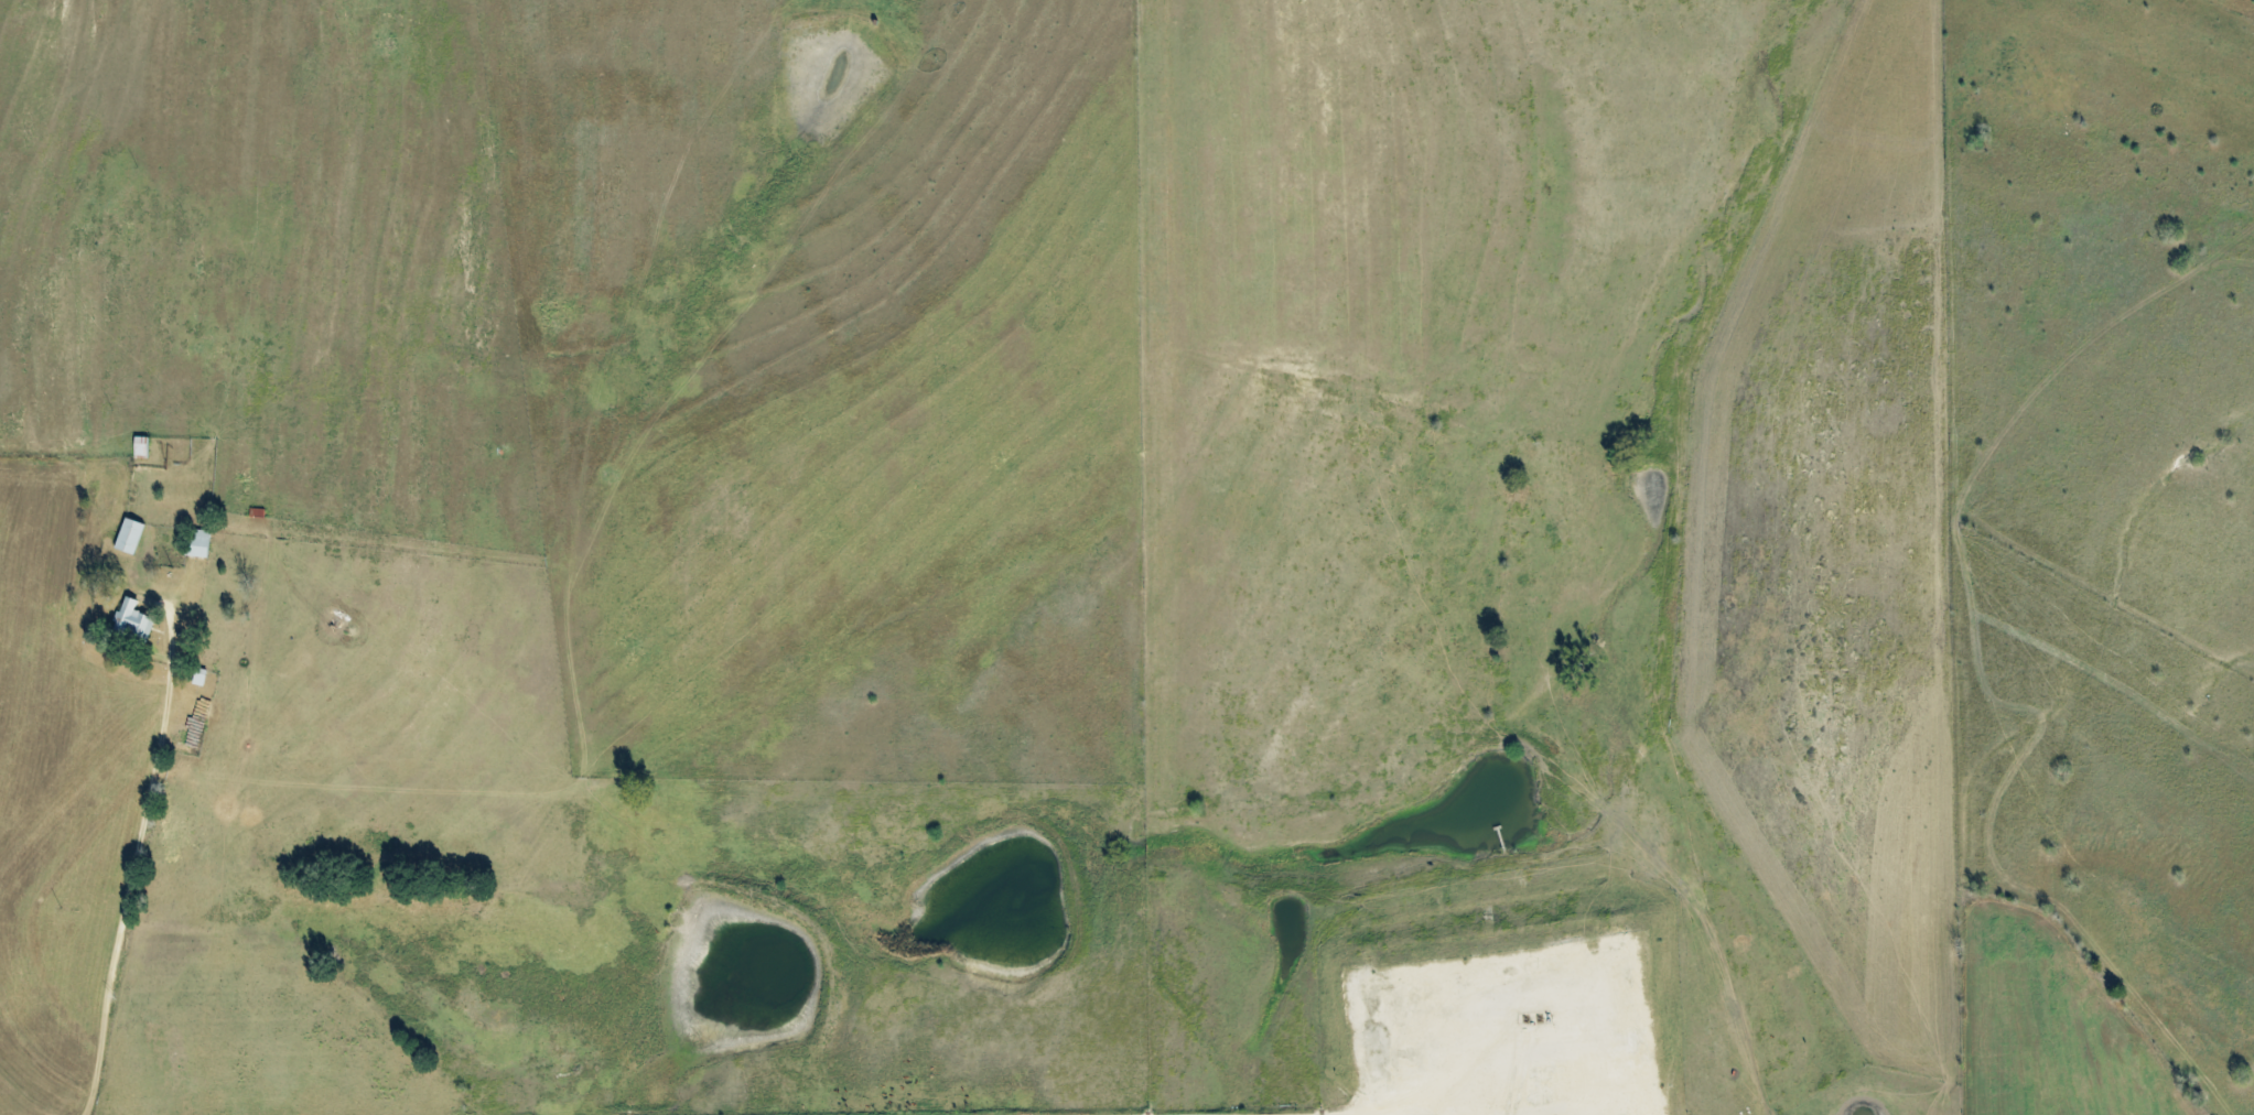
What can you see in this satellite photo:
building: (129, 535)
building: (198, 542)
building: (133, 618)
road: (150, 921)
road: (1254, 1104)

